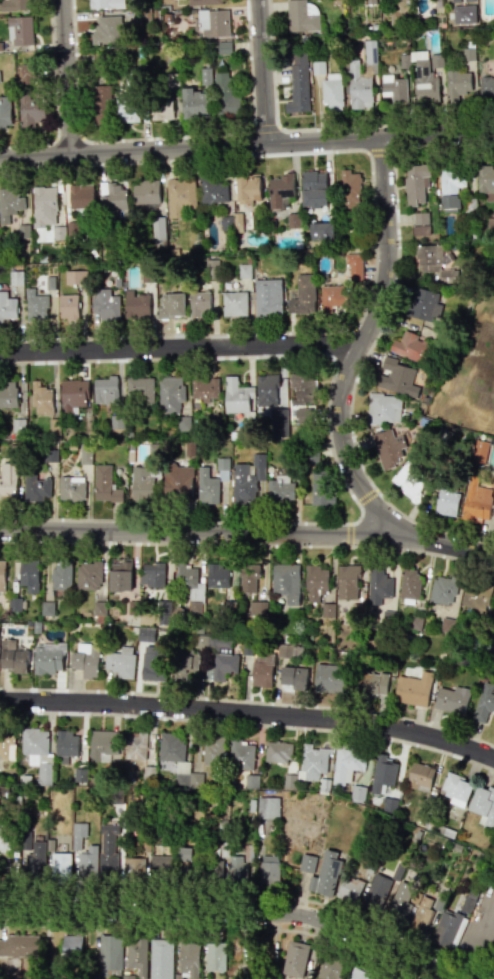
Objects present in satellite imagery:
building: (469, 0)
building: (204, 2)
building: (107, 3)
building: (493, 3)
building: (14, 5)
building: (141, 14)
building: (302, 16)
building: (167, 17)
building: (213, 23)
building: (106, 29)
building: (19, 30)
building: (224, 47)
building: (468, 53)
building: (435, 60)
building: (103, 63)
road: (271, 63)
building: (318, 67)
road: (265, 72)
building: (26, 73)
building: (205, 76)
building: (367, 76)
road: (68, 77)
building: (172, 78)
building: (426, 81)
building: (299, 82)
building: (457, 83)
building: (395, 87)
building: (331, 88)
building: (487, 88)
building: (227, 96)
building: (101, 101)
building: (195, 103)
building: (162, 108)
building: (127, 109)
building: (31, 110)
building: (5, 112)
road: (384, 126)
road: (263, 127)
road: (160, 136)
road: (247, 145)
road: (379, 151)
building: (486, 179)
building: (415, 182)
building: (351, 187)
building: (280, 188)
building: (315, 188)
building: (449, 189)
building: (211, 190)
building: (248, 190)
building: (146, 191)
building: (81, 196)
building: (114, 196)
building: (180, 196)
building: (10, 203)
building: (44, 207)
building: (231, 220)
building: (292, 220)
building: (420, 222)
building: (322, 230)
building: (158, 231)
road: (372, 234)
building: (431, 257)
building: (353, 264)
building: (243, 270)
building: (75, 276)
building: (15, 277)
building: (303, 295)
building: (268, 296)
building: (334, 297)
building: (137, 303)
building: (199, 303)
building: (234, 303)
building: (104, 304)
building: (424, 305)
building: (37, 306)
building: (67, 306)
building: (171, 306)
building: (8, 307)
road: (374, 339)
road: (363, 344)
building: (408, 344)
road: (340, 346)
road: (181, 348)
park: (474, 360)
park: (468, 376)
building: (397, 377)
building: (205, 387)
building: (302, 387)
building: (106, 388)
building: (267, 389)
building: (140, 390)
building: (171, 393)
building: (8, 394)
building: (73, 394)
building: (236, 395)
building: (41, 398)
building: (383, 408)
building: (279, 422)
building: (17, 425)
building: (386, 446)
building: (479, 450)
building: (48, 455)
building: (84, 455)
road: (331, 455)
building: (258, 465)
building: (177, 478)
building: (8, 480)
building: (409, 481)
building: (142, 482)
building: (106, 484)
building: (241, 484)
building: (312, 484)
building: (207, 485)
building: (37, 487)
building: (71, 488)
building: (280, 489)
road: (365, 496)
building: (476, 500)
building: (446, 501)
street lamp: (356, 515)
street lamp: (412, 518)
street lamp: (158, 524)
road: (248, 533)
road: (347, 534)
street lamp: (41, 541)
road: (247, 544)
street lamp: (263, 547)
building: (152, 573)
building: (89, 574)
building: (120, 574)
building: (217, 574)
building: (2, 575)
building: (28, 576)
building: (59, 576)
building: (249, 578)
building: (189, 580)
building: (316, 580)
building: (287, 581)
building: (349, 581)
building: (409, 584)
building: (378, 585)
building: (444, 588)
building: (477, 596)
building: (14, 603)
building: (227, 605)
building: (164, 606)
building: (195, 607)
building: (258, 607)
building: (100, 608)
building: (47, 610)
building: (492, 614)
building: (387, 616)
building: (148, 618)
building: (28, 623)
building: (414, 623)
building: (36, 627)
building: (146, 634)
building: (289, 650)
building: (15, 658)
building: (86, 658)
building: (185, 658)
building: (489, 658)
building: (47, 660)
building: (221, 660)
building: (122, 661)
building: (153, 666)
building: (262, 669)
building: (294, 677)
building: (328, 679)
building: (371, 684)
building: (413, 689)
building: (452, 699)
road: (249, 701)
building: (484, 704)
road: (249, 715)
building: (66, 745)
building: (136, 745)
building: (7, 746)
building: (102, 746)
building: (36, 751)
building: (213, 751)
building: (278, 751)
building: (241, 755)
building: (178, 760)
building: (312, 762)
building: (347, 763)
building: (80, 775)
building: (382, 775)
building: (420, 776)
building: (456, 789)
building: (357, 792)
building: (390, 805)
building: (483, 805)
building: (268, 807)
building: (78, 834)
building: (4, 838)
building: (25, 843)
building: (108, 848)
building: (185, 854)
building: (35, 857)
building: (87, 862)
building: (307, 863)
building: (60, 865)
building: (134, 865)
building: (158, 865)
building: (214, 868)
building: (237, 868)
building: (269, 869)
building: (325, 874)
building: (349, 889)
building: (377, 891)
building: (401, 900)
building: (468, 902)
road: (239, 913)
building: (421, 914)
road: (219, 927)
building: (448, 928)
road: (473, 933)
building: (71, 944)
building: (19, 946)
parking lot: (490, 952)
building: (110, 955)
building: (137, 955)
building: (215, 957)
building: (161, 959)
building: (296, 959)
building: (188, 960)
building: (329, 969)
building: (360, 974)

